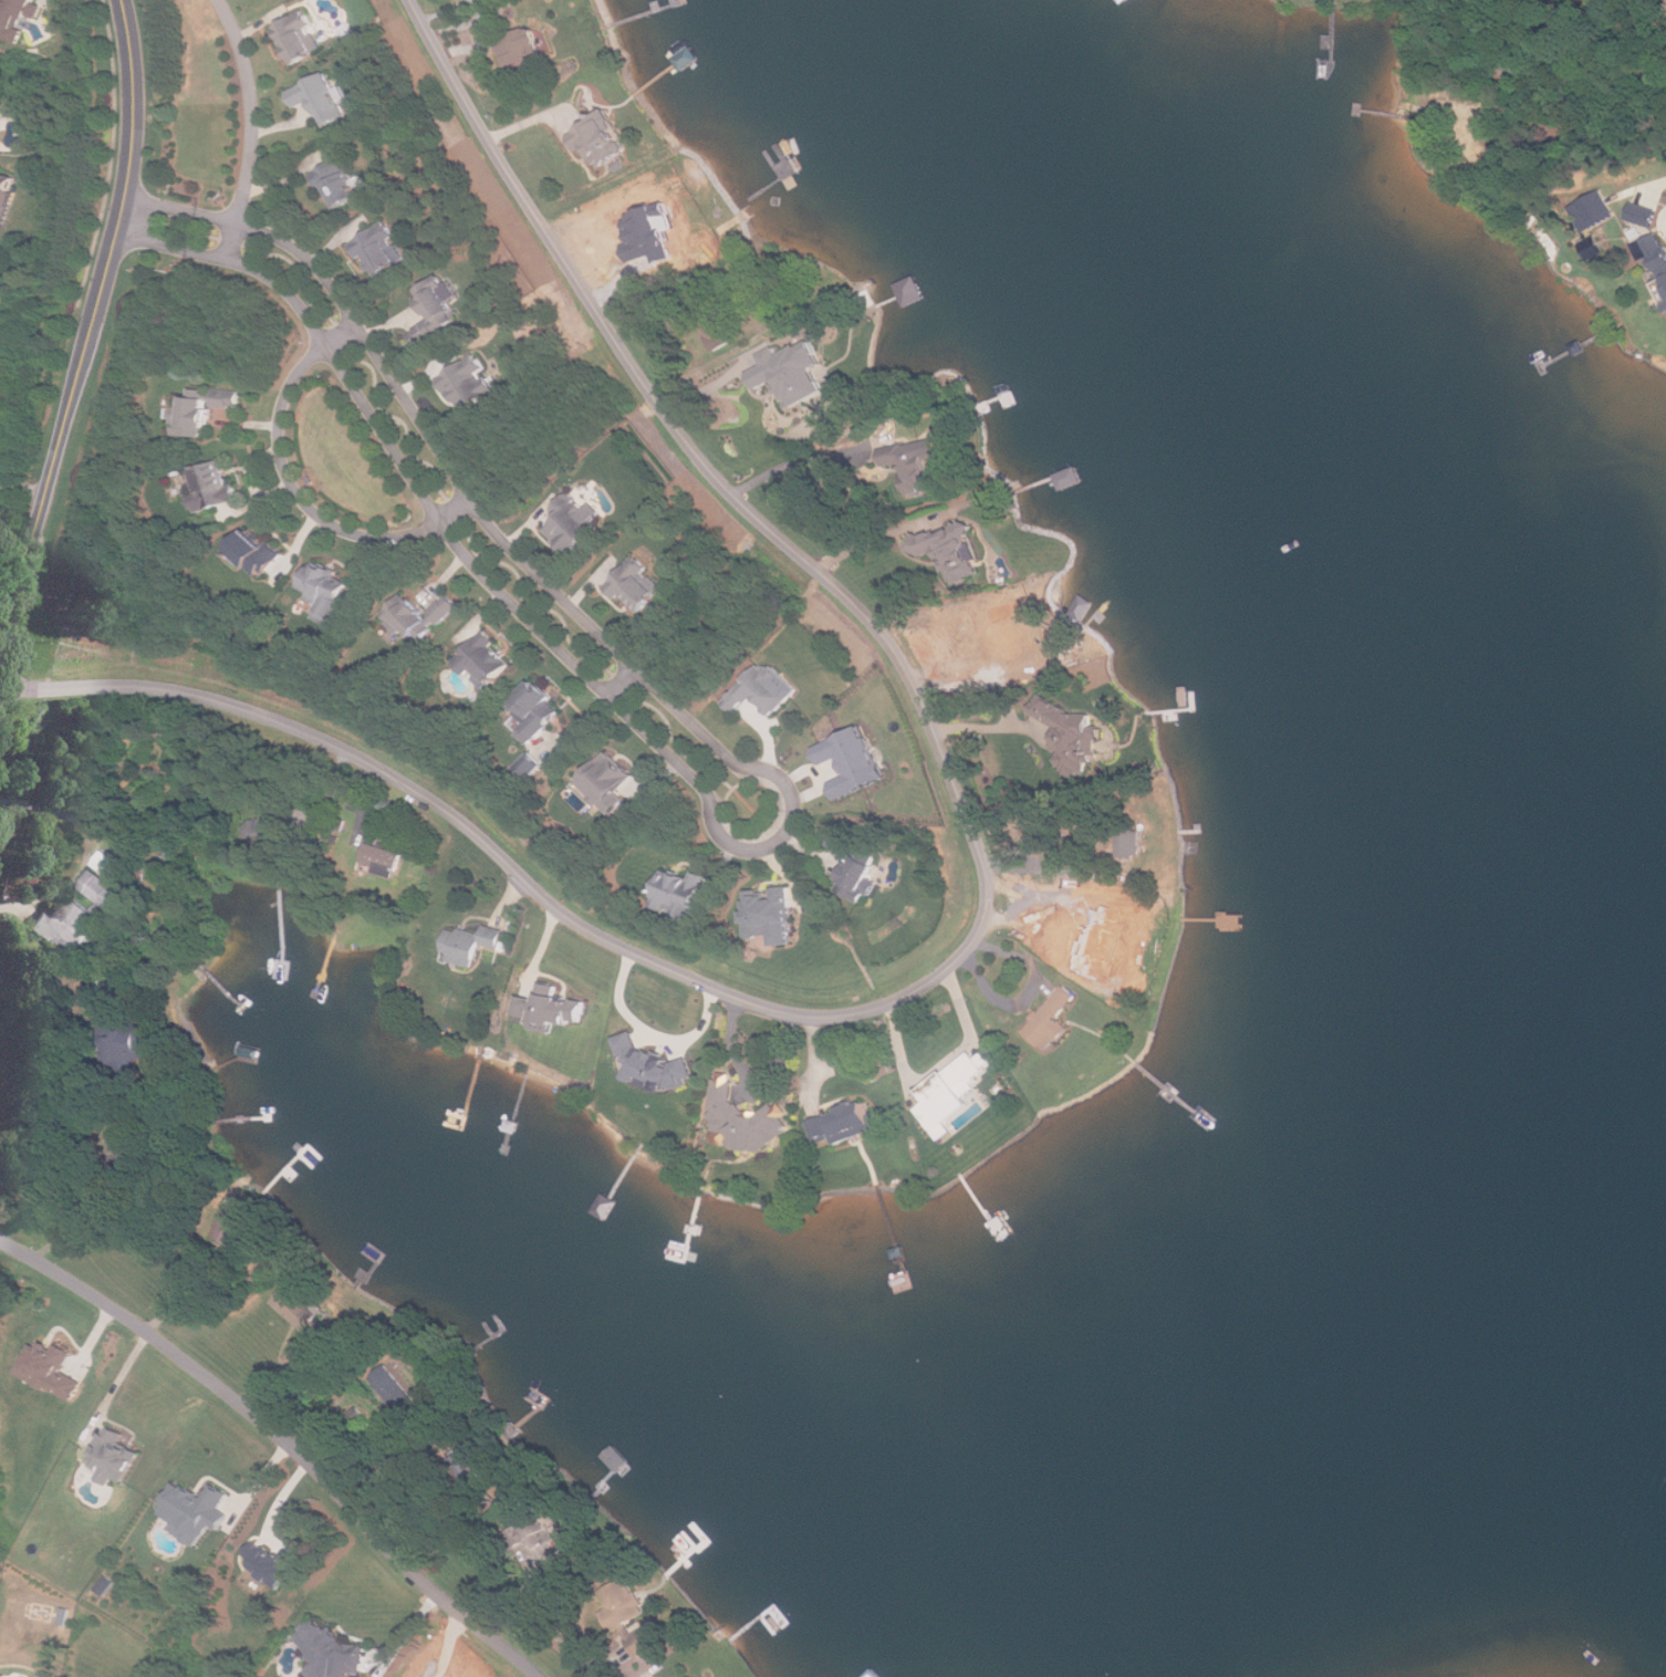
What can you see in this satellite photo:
building: (18, 12)
building: (299, 35)
building: (522, 44)
building: (322, 97)
road: (253, 129)
building: (600, 138)
road: (132, 160)
building: (341, 181)
building: (7, 191)
building: (1589, 210)
building: (1643, 213)
building: (1592, 246)
building: (376, 247)
building: (1658, 268)
building: (912, 289)
building: (438, 301)
building: (423, 332)
building: (791, 371)
building: (469, 382)
building: (202, 410)
road: (800, 460)
building: (915, 465)
building: (211, 486)
road: (23, 488)
road: (296, 491)
road: (44, 500)
building: (574, 521)
road: (900, 530)
road: (18, 542)
building: (257, 552)
building: (635, 583)
building: (325, 590)
building: (418, 614)
building: (483, 659)
road: (623, 683)
building: (763, 689)
building: (532, 710)
road: (998, 726)
building: (853, 760)
building: (530, 765)
building: (607, 781)
road: (790, 830)
building: (842, 843)
road: (96, 850)
building: (382, 860)
building: (860, 878)
building: (102, 888)
building: (679, 893)
building: (770, 914)
road: (988, 921)
building: (66, 925)
building: (1121, 941)
building: (475, 942)
building: (1066, 951)
road: (41, 992)
building: (550, 1008)
building: (1052, 1019)
road: (653, 1033)
road: (732, 1044)
building: (654, 1064)
road: (945, 1065)
building: (952, 1093)
building: (747, 1118)
building: (855, 1118)
building: (822, 1129)
road: (84, 1221)
road: (191, 1296)
building: (295, 1305)
building: (300, 1358)
building: (49, 1367)
building: (399, 1395)
road: (283, 1441)
building: (115, 1454)
building: (617, 1459)
building: (196, 1508)
building: (538, 1540)
building: (271, 1561)
road: (519, 1592)
building: (624, 1605)
building: (643, 1643)
building: (332, 1649)
building: (874, 1674)

